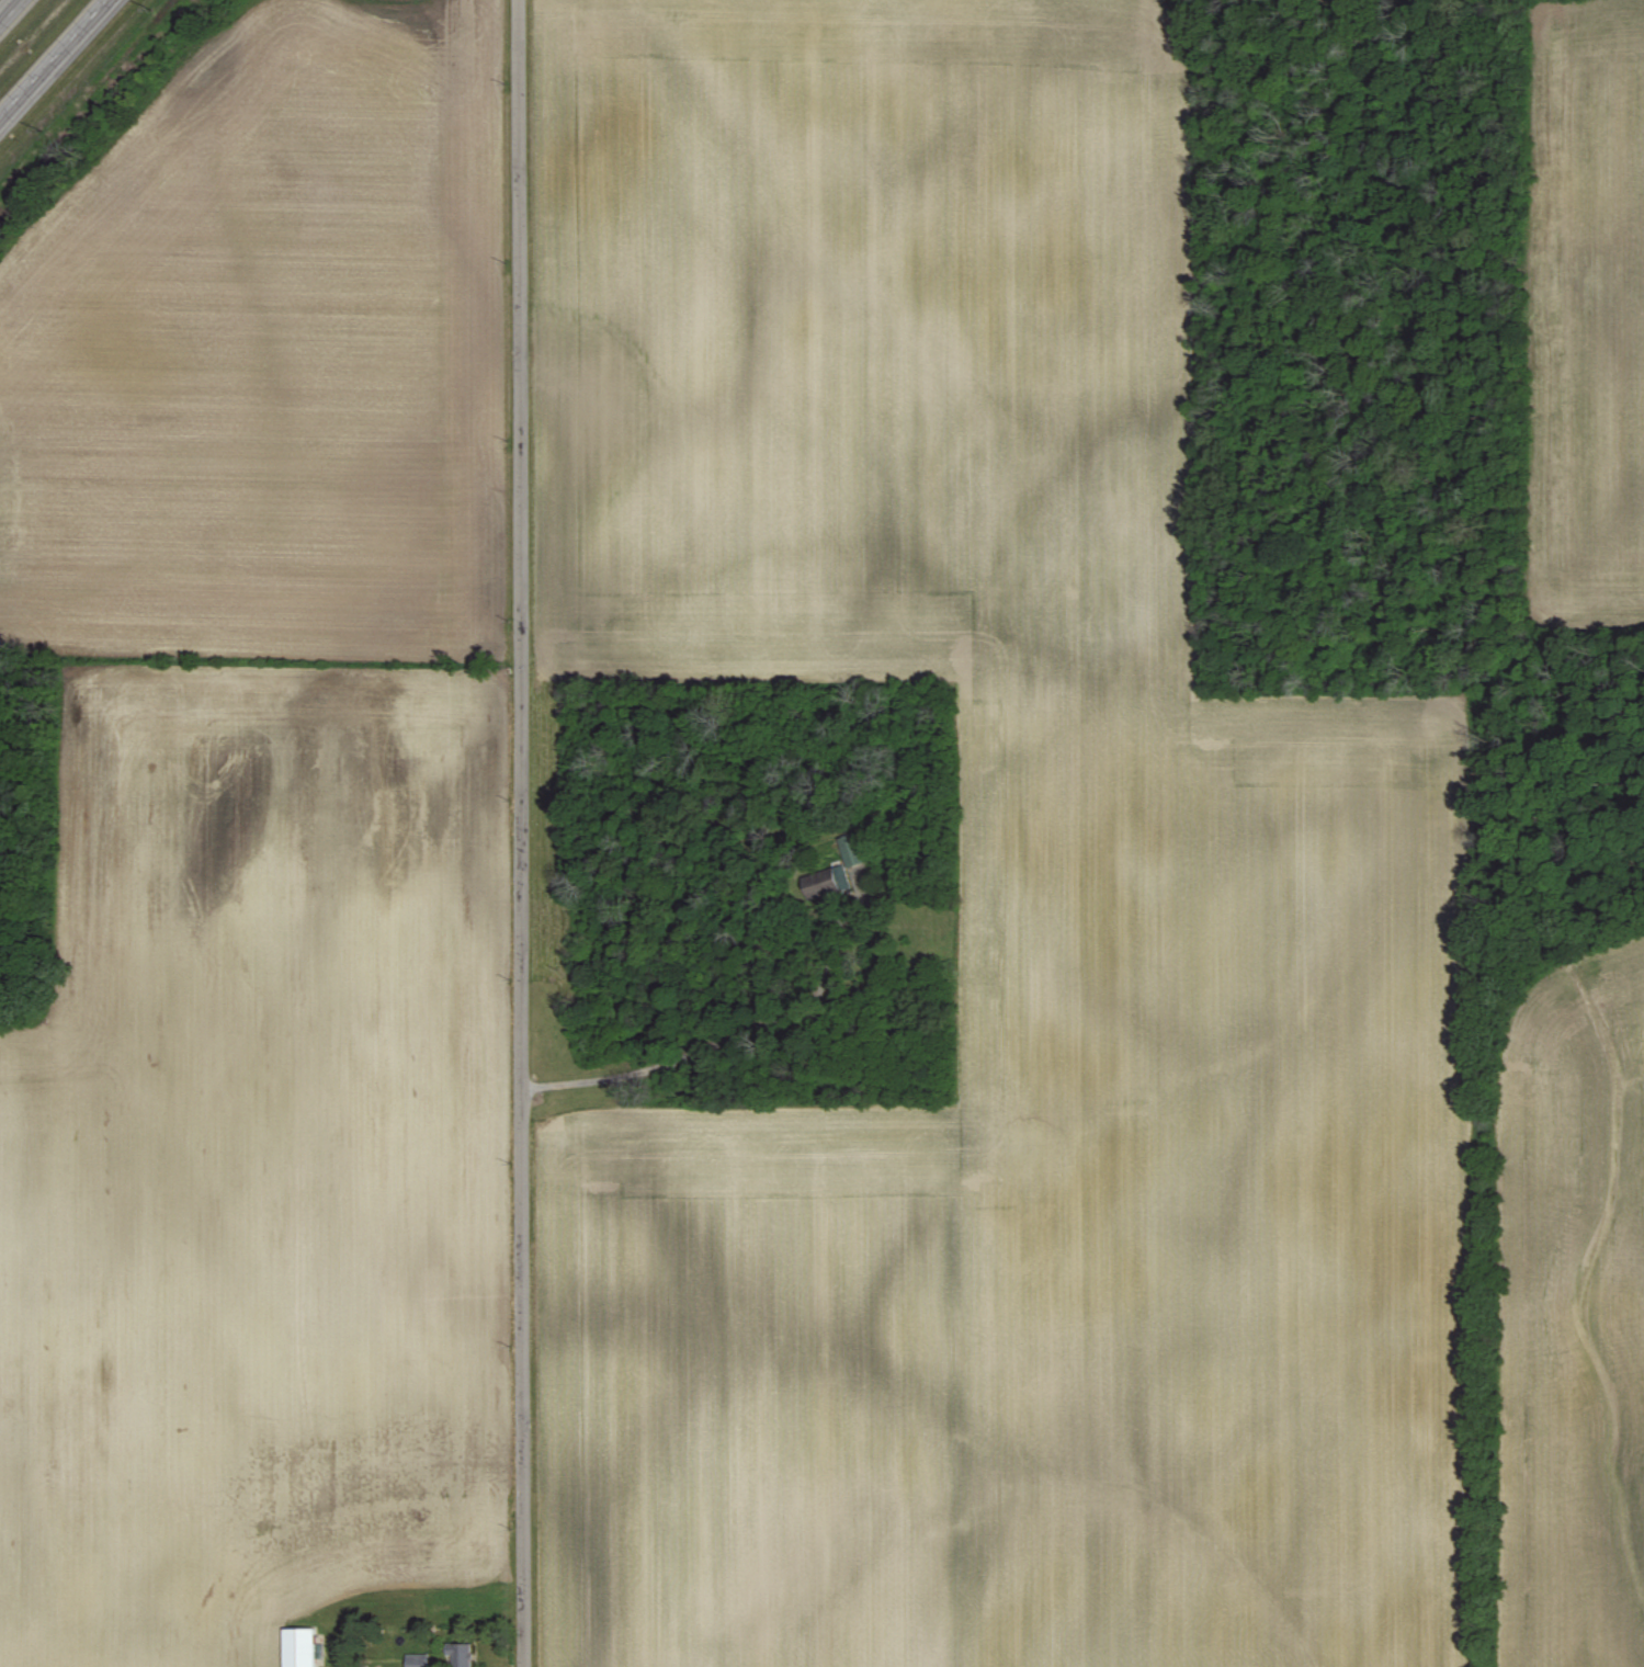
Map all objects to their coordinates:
road: (10, 11)
road: (53, 58)
road: (522, 833)
building: (853, 849)
building: (828, 882)
road: (733, 1031)
building: (301, 1647)
building: (462, 1655)
building: (419, 1660)

